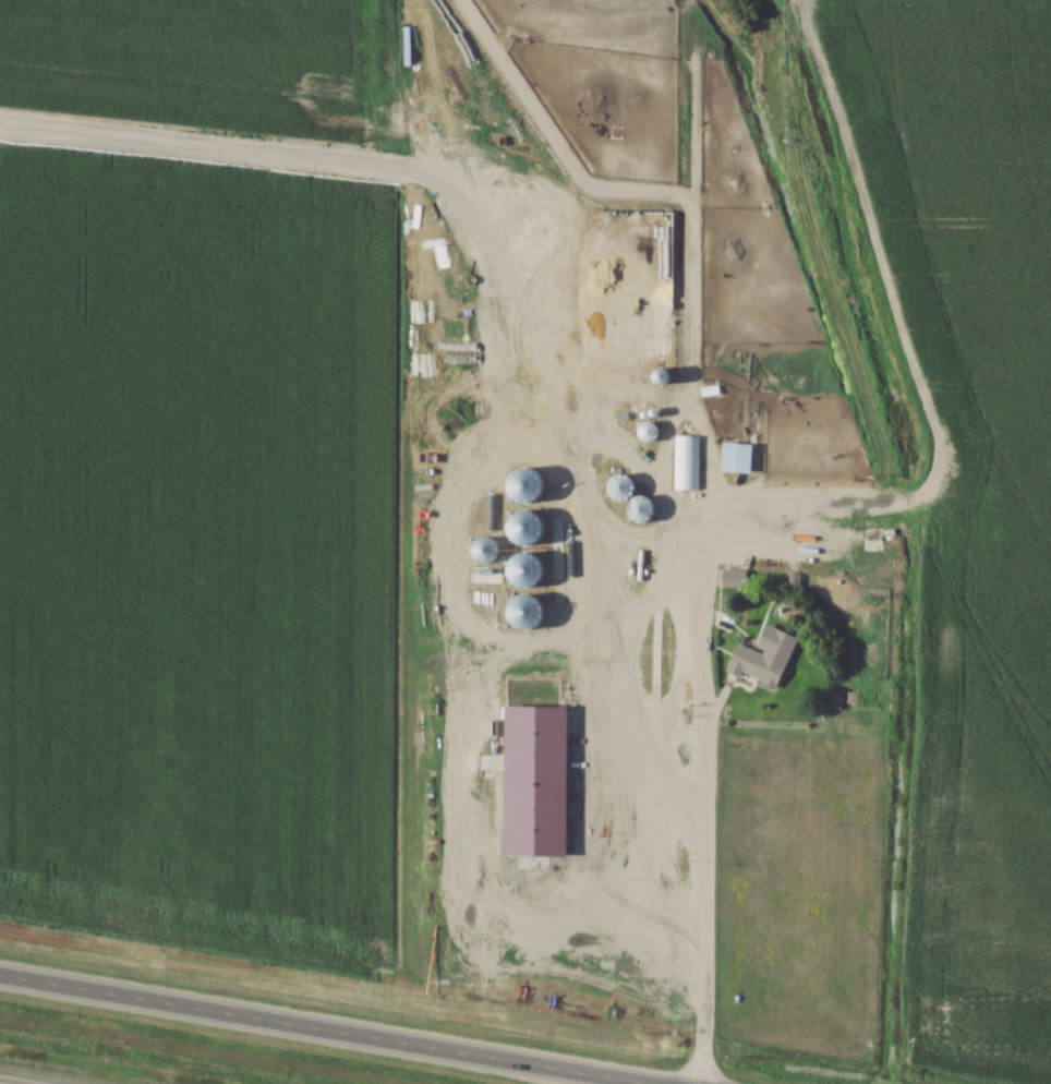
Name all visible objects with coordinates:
building: (409, 251)
building: (735, 459)
building: (685, 465)
building: (522, 486)
building: (617, 486)
building: (520, 529)
crop: (201, 545)
building: (521, 568)
building: (762, 658)
building: (532, 781)
road: (323, 1029)
railway: (12, 1082)

